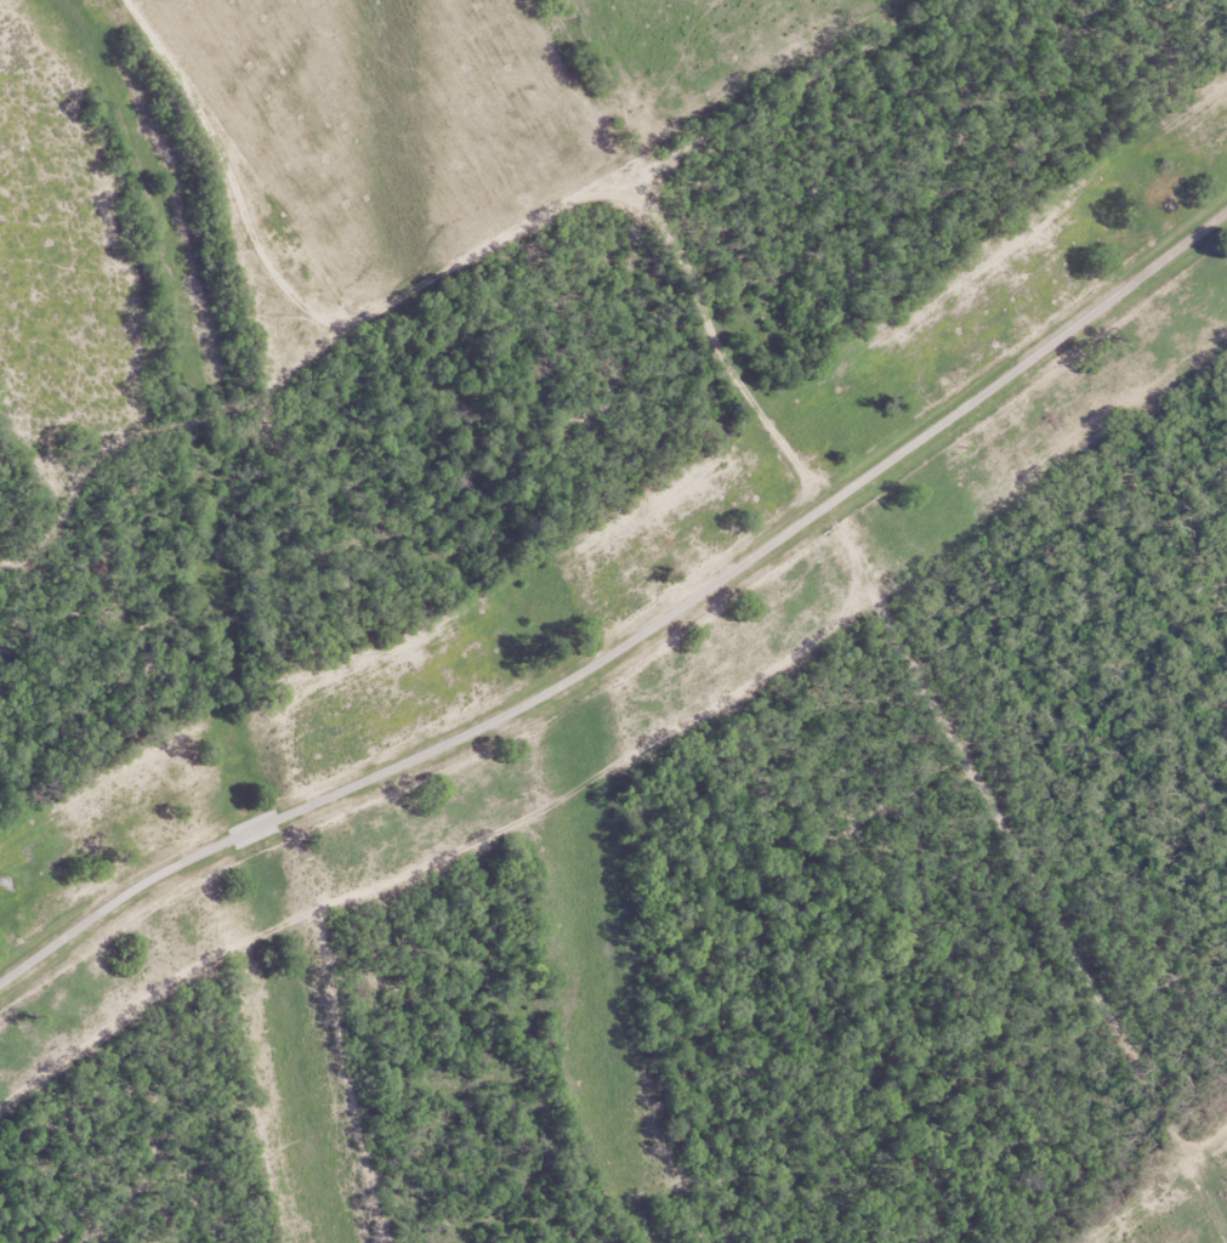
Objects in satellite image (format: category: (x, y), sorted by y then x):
road: (495, 250)
road: (629, 655)

